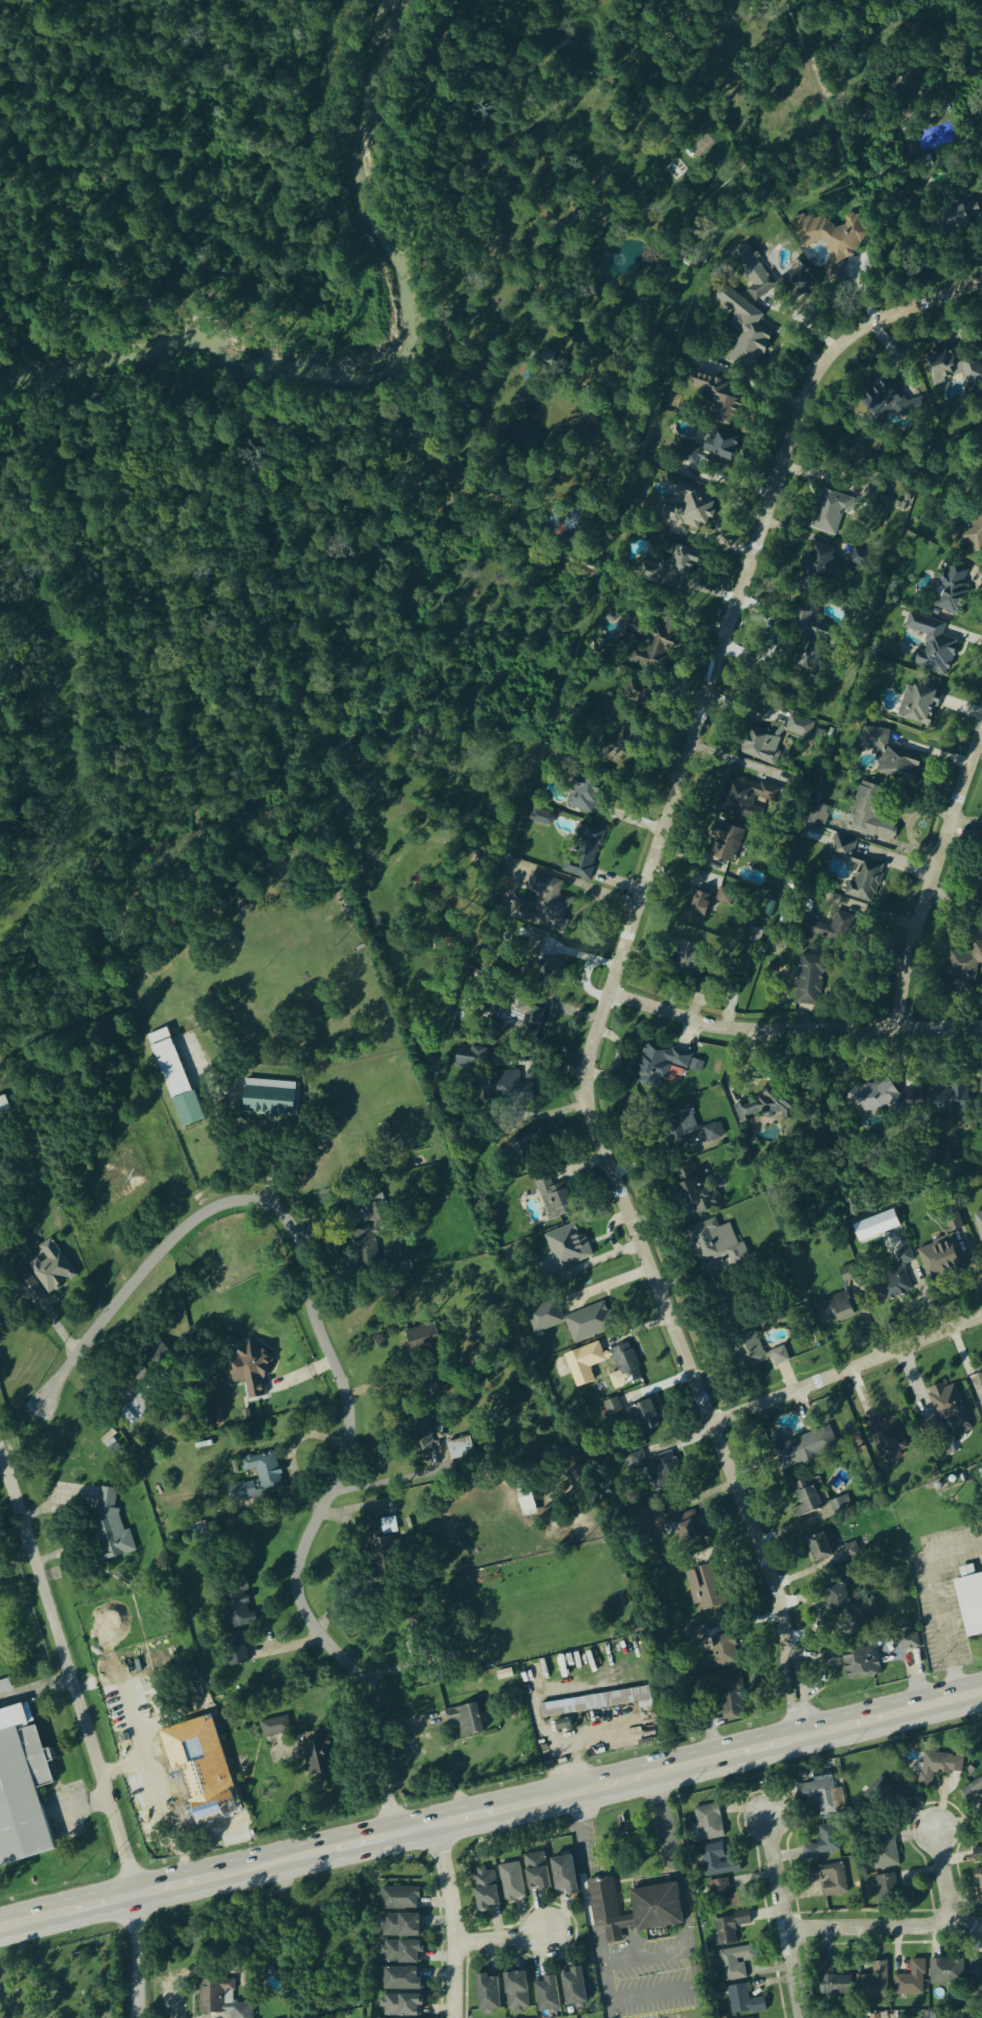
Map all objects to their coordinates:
building: (964, 217)
building: (754, 273)
building: (801, 283)
building: (745, 332)
river: (368, 361)
building: (944, 366)
building: (972, 372)
park: (149, 392)
building: (720, 399)
building: (891, 402)
building: (723, 448)
building: (695, 504)
building: (832, 512)
building: (975, 535)
building: (822, 562)
building: (670, 565)
building: (954, 590)
building: (811, 639)
building: (933, 646)
building: (650, 657)
building: (920, 706)
building: (875, 736)
building: (775, 740)
building: (901, 765)
building: (587, 794)
building: (872, 815)
building: (820, 816)
building: (540, 818)
building: (726, 844)
building: (847, 850)
building: (585, 853)
road: (932, 875)
building: (864, 883)
building: (706, 907)
building: (835, 929)
building: (690, 958)
road: (616, 961)
building: (966, 965)
building: (810, 980)
building: (526, 1016)
road: (791, 1027)
building: (471, 1056)
building: (661, 1064)
building: (175, 1077)
building: (981, 1085)
building: (507, 1086)
building: (270, 1098)
building: (949, 1098)
building: (884, 1099)
building: (3, 1105)
building: (767, 1107)
building: (694, 1130)
building: (694, 1189)
building: (554, 1198)
building: (979, 1223)
building: (876, 1226)
building: (716, 1243)
building: (366, 1245)
building: (568, 1246)
building: (895, 1247)
building: (944, 1258)
building: (52, 1267)
building: (849, 1274)
building: (894, 1286)
building: (835, 1309)
building: (571, 1320)
building: (423, 1338)
building: (761, 1354)
building: (625, 1364)
building: (153, 1365)
building: (251, 1370)
road: (845, 1370)
road: (335, 1371)
building: (980, 1375)
building: (952, 1405)
building: (632, 1415)
building: (889, 1437)
building: (423, 1442)
building: (805, 1449)
building: (459, 1450)
road: (297, 1456)
building: (952, 1460)
building: (656, 1470)
building: (257, 1479)
road: (370, 1491)
building: (808, 1498)
building: (526, 1505)
building: (840, 1506)
road: (279, 1508)
road: (41, 1514)
road: (72, 1522)
building: (109, 1529)
building: (690, 1532)
building: (381, 1549)
building: (828, 1552)
building: (706, 1588)
building: (970, 1603)
road: (940, 1604)
building: (838, 1610)
building: (234, 1618)
building: (498, 1631)
building: (908, 1642)
building: (722, 1653)
building: (860, 1662)
road: (69, 1675)
building: (5, 1686)
building: (728, 1701)
building: (594, 1702)
building: (198, 1706)
building: (465, 1720)
building: (275, 1727)
building: (200, 1741)
road: (573, 1742)
building: (315, 1753)
road: (127, 1764)
building: (939, 1766)
building: (973, 1791)
building: (880, 1795)
building: (23, 1796)
building: (821, 1796)
road: (82, 1804)
building: (202, 1806)
road: (491, 1810)
building: (658, 1823)
building: (708, 1823)
building: (823, 1844)
building: (882, 1851)
building: (977, 1854)
road: (675, 1860)
building: (714, 1860)
building: (535, 1871)
building: (562, 1874)
road: (584, 1878)
road: (943, 1878)
building: (829, 1879)
building: (511, 1881)
building: (978, 1884)
building: (485, 1891)
building: (891, 1891)
building: (724, 1896)
building: (399, 1899)
building: (635, 1906)
road: (784, 1917)
road: (452, 1920)
building: (399, 1926)
road: (883, 1927)
building: (727, 1929)
road: (501, 1939)
building: (401, 1953)
road: (137, 1955)
road: (646, 1957)
building: (734, 1963)
building: (946, 1972)
building: (976, 1978)
building: (400, 1980)
park: (63, 1981)
building: (832, 1981)
building: (911, 1981)
building: (873, 1983)
building: (572, 1987)
building: (515, 1992)
building: (486, 1993)
building: (546, 1994)
road: (654, 1994)
building: (220, 2000)
building: (743, 2002)
building: (400, 2006)
building: (874, 2016)
building: (935, 2016)

